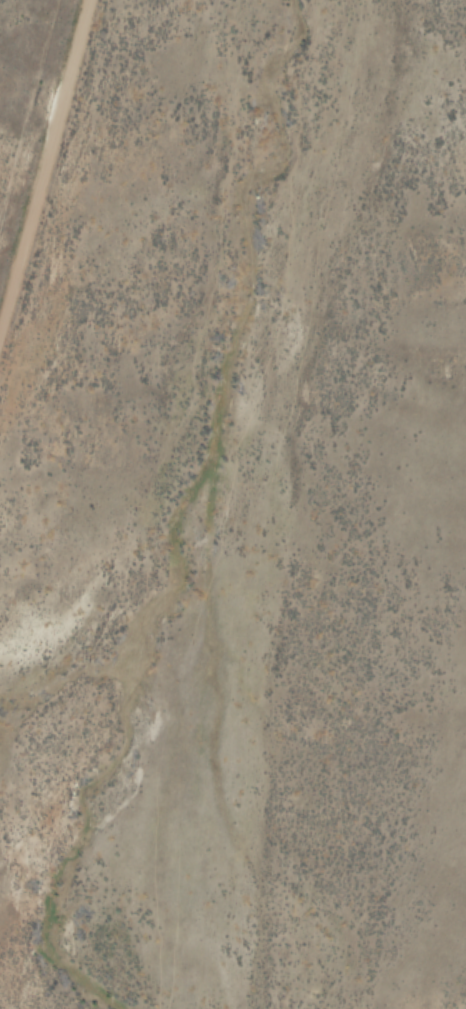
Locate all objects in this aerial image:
road: (36, 171)

